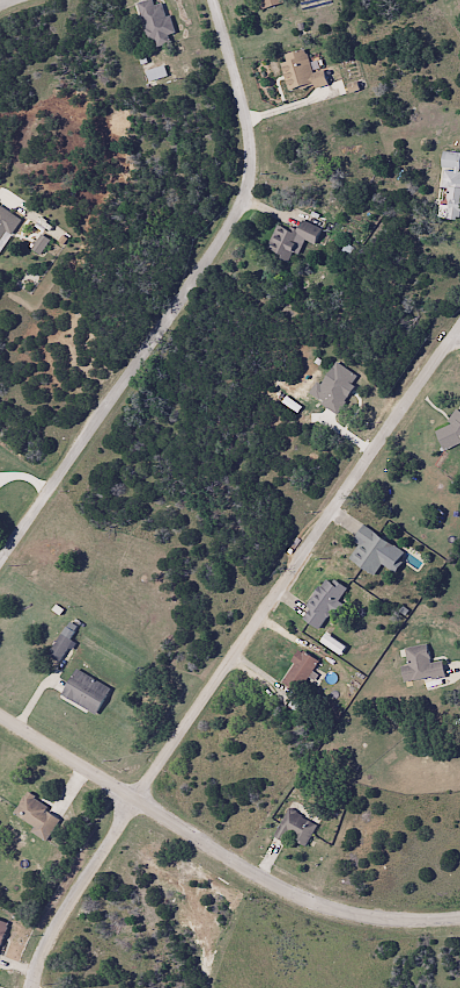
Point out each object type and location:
road: (4, 2)
building: (268, 3)
building: (154, 23)
building: (299, 71)
building: (449, 187)
building: (6, 225)
building: (290, 240)
road: (184, 297)
road: (458, 329)
road: (458, 332)
building: (447, 431)
building: (370, 552)
building: (321, 604)
building: (58, 648)
road: (236, 654)
building: (419, 665)
building: (297, 671)
building: (84, 692)
building: (35, 817)
building: (293, 828)
road: (218, 849)
building: (2, 928)

